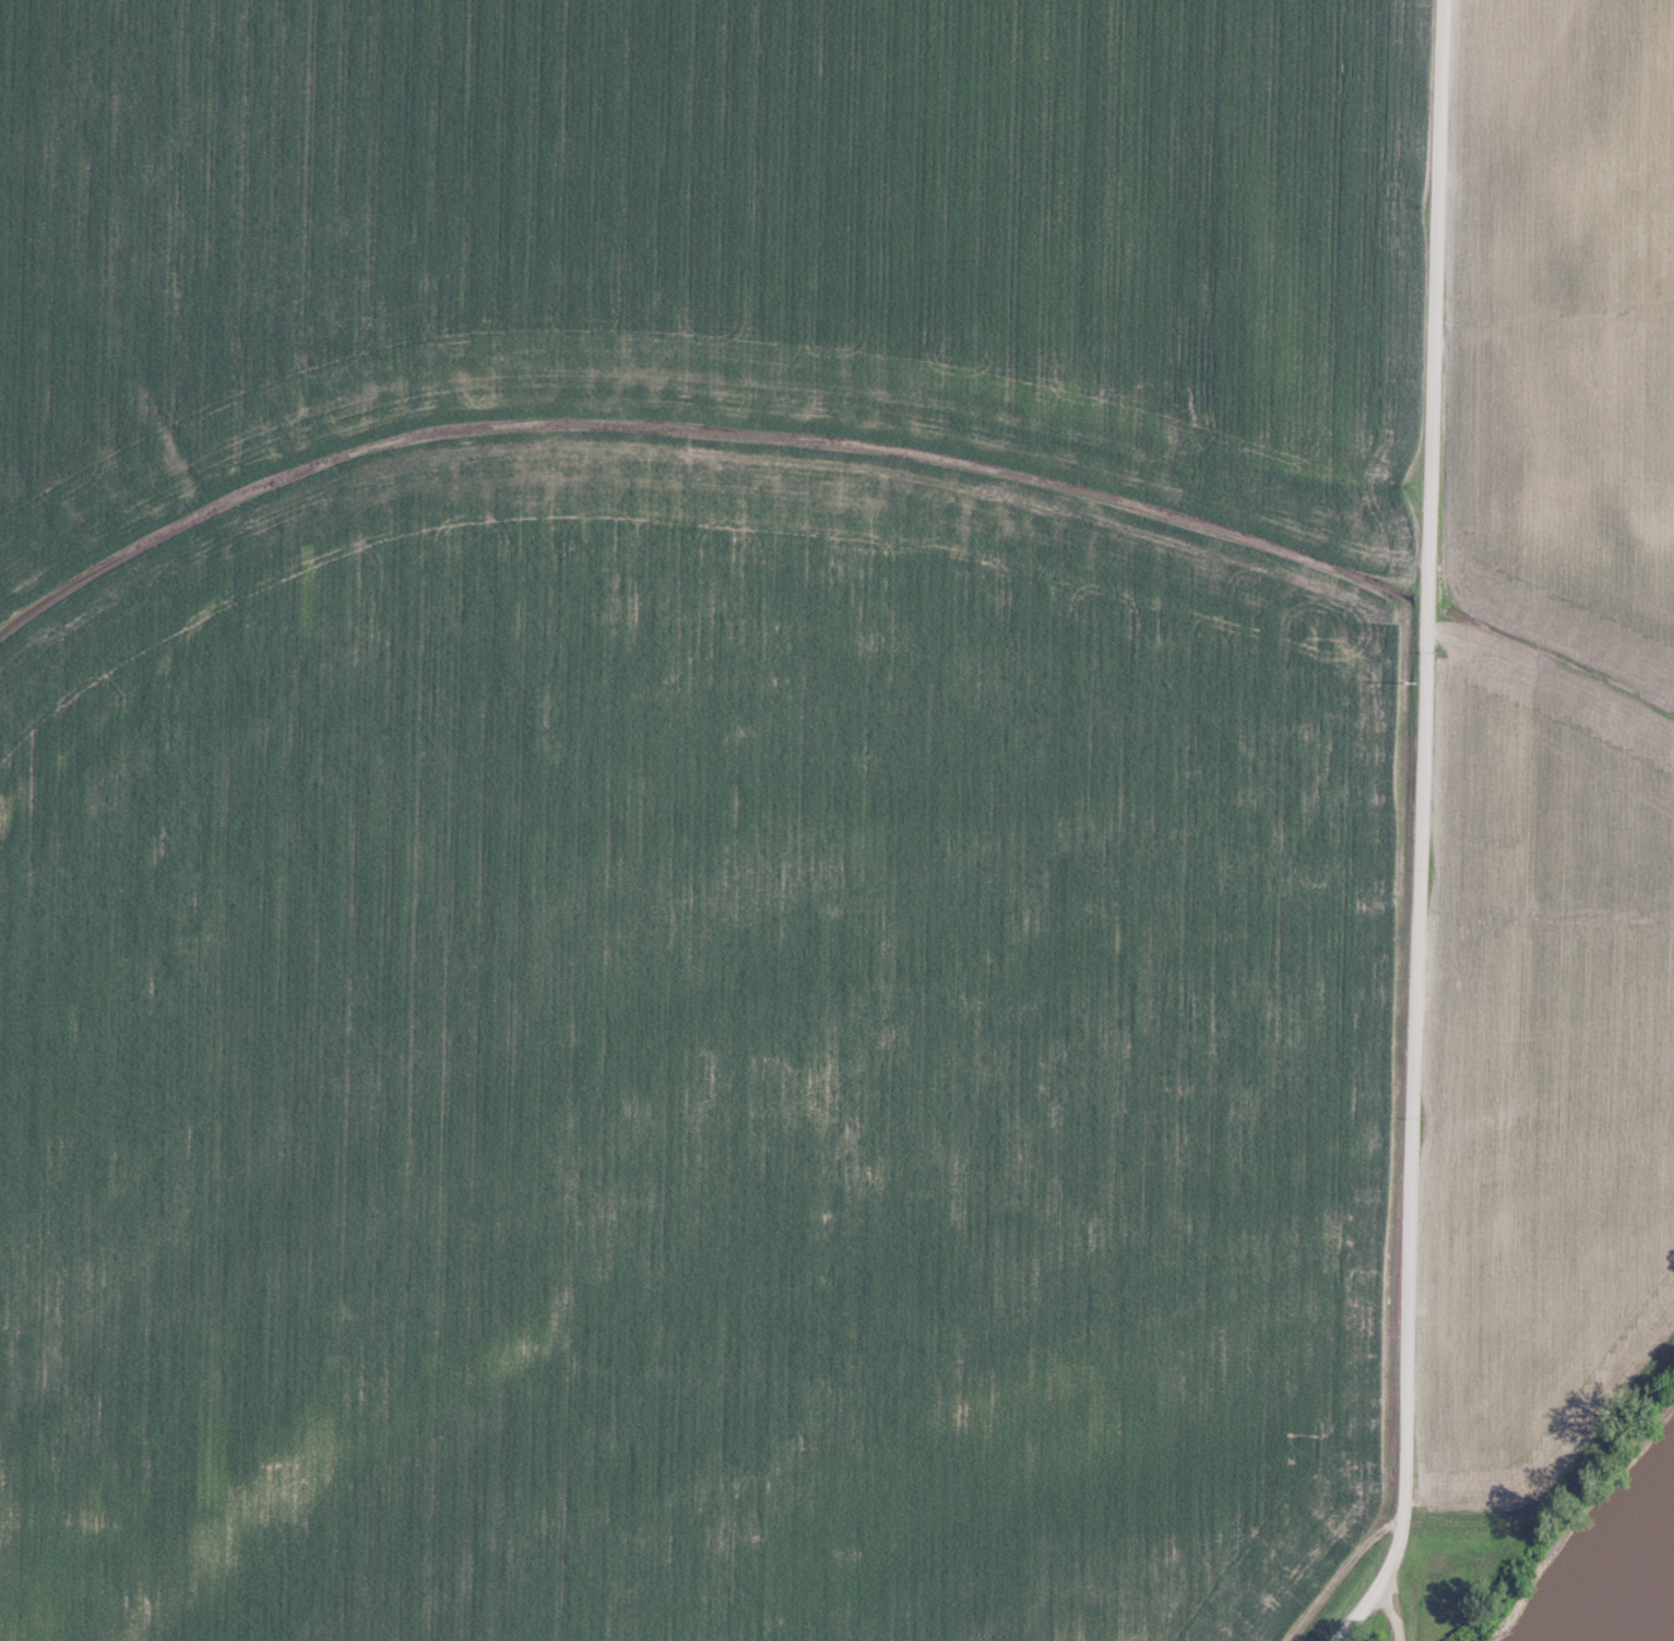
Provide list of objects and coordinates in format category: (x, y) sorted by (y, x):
road: (1426, 831)

